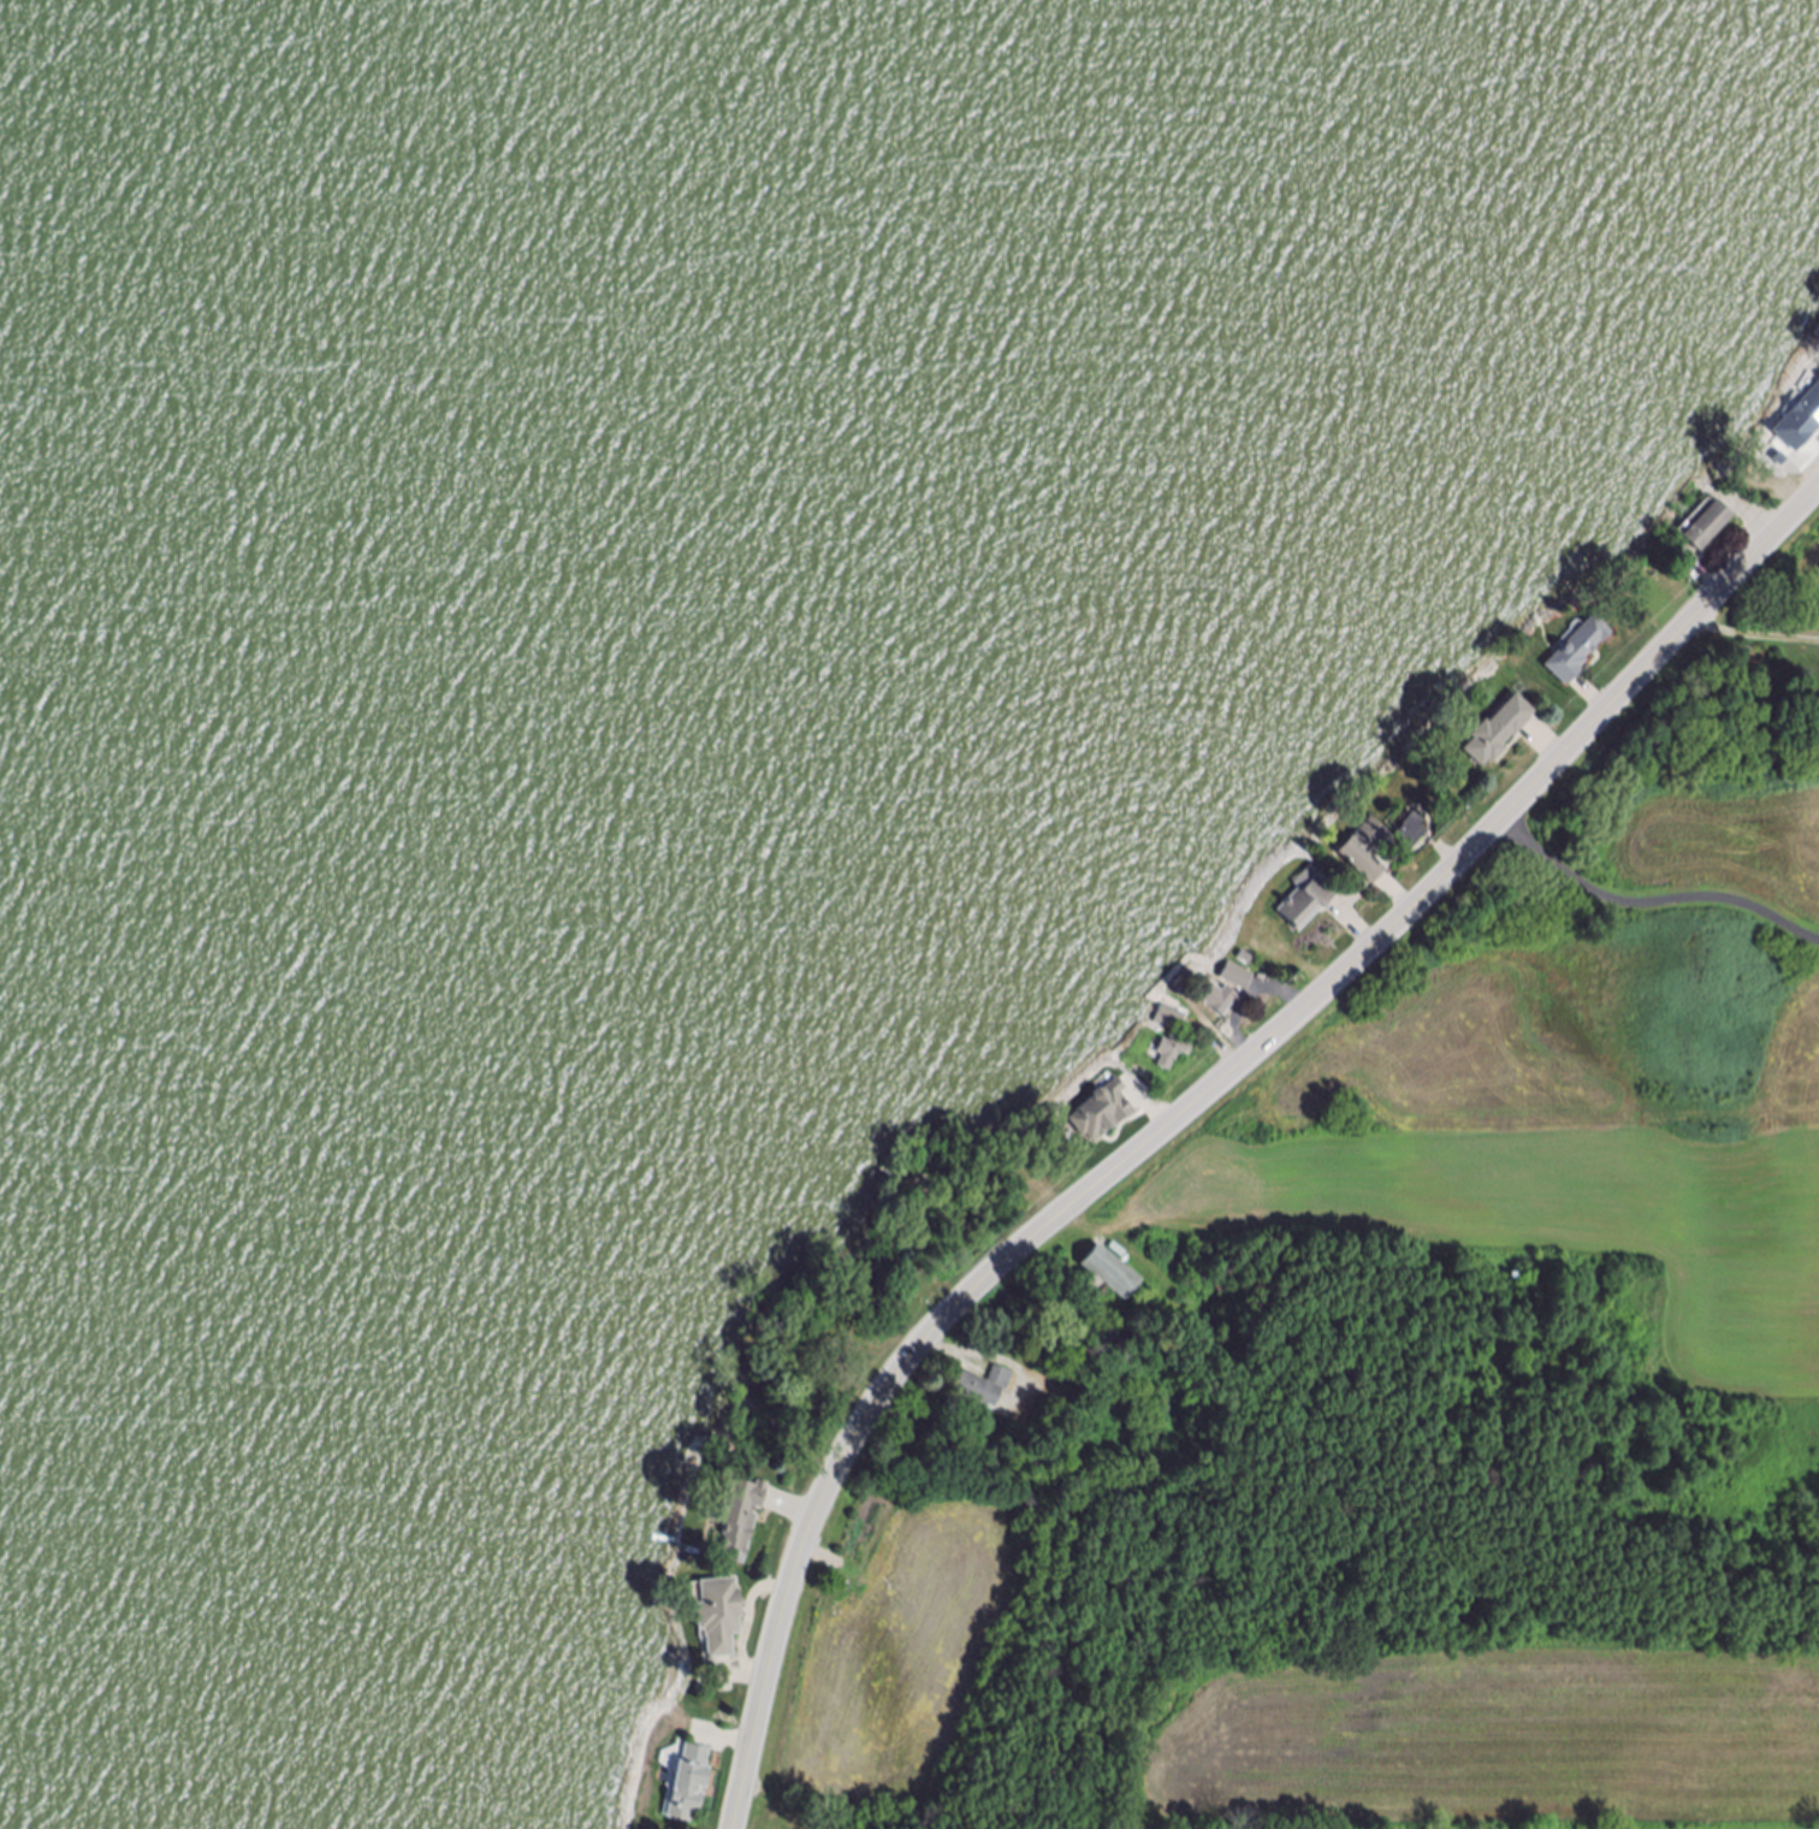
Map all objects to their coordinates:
building: (1803, 391)
building: (1794, 420)
building: (1707, 528)
building: (1687, 557)
road: (1756, 637)
building: (1577, 652)
building: (1498, 734)
building: (1411, 835)
building: (1365, 853)
building: (1309, 904)
road: (1652, 904)
building: (1237, 978)
building: (1222, 1002)
building: (1174, 1017)
building: (1165, 1028)
building: (1174, 1054)
building: (1103, 1113)
road: (1193, 1114)
building: (917, 1256)
building: (1112, 1275)
building: (1092, 1285)
building: (985, 1390)
building: (740, 1520)
building: (718, 1618)
crop: (883, 1646)
crop: (1480, 1739)
building: (689, 1787)

